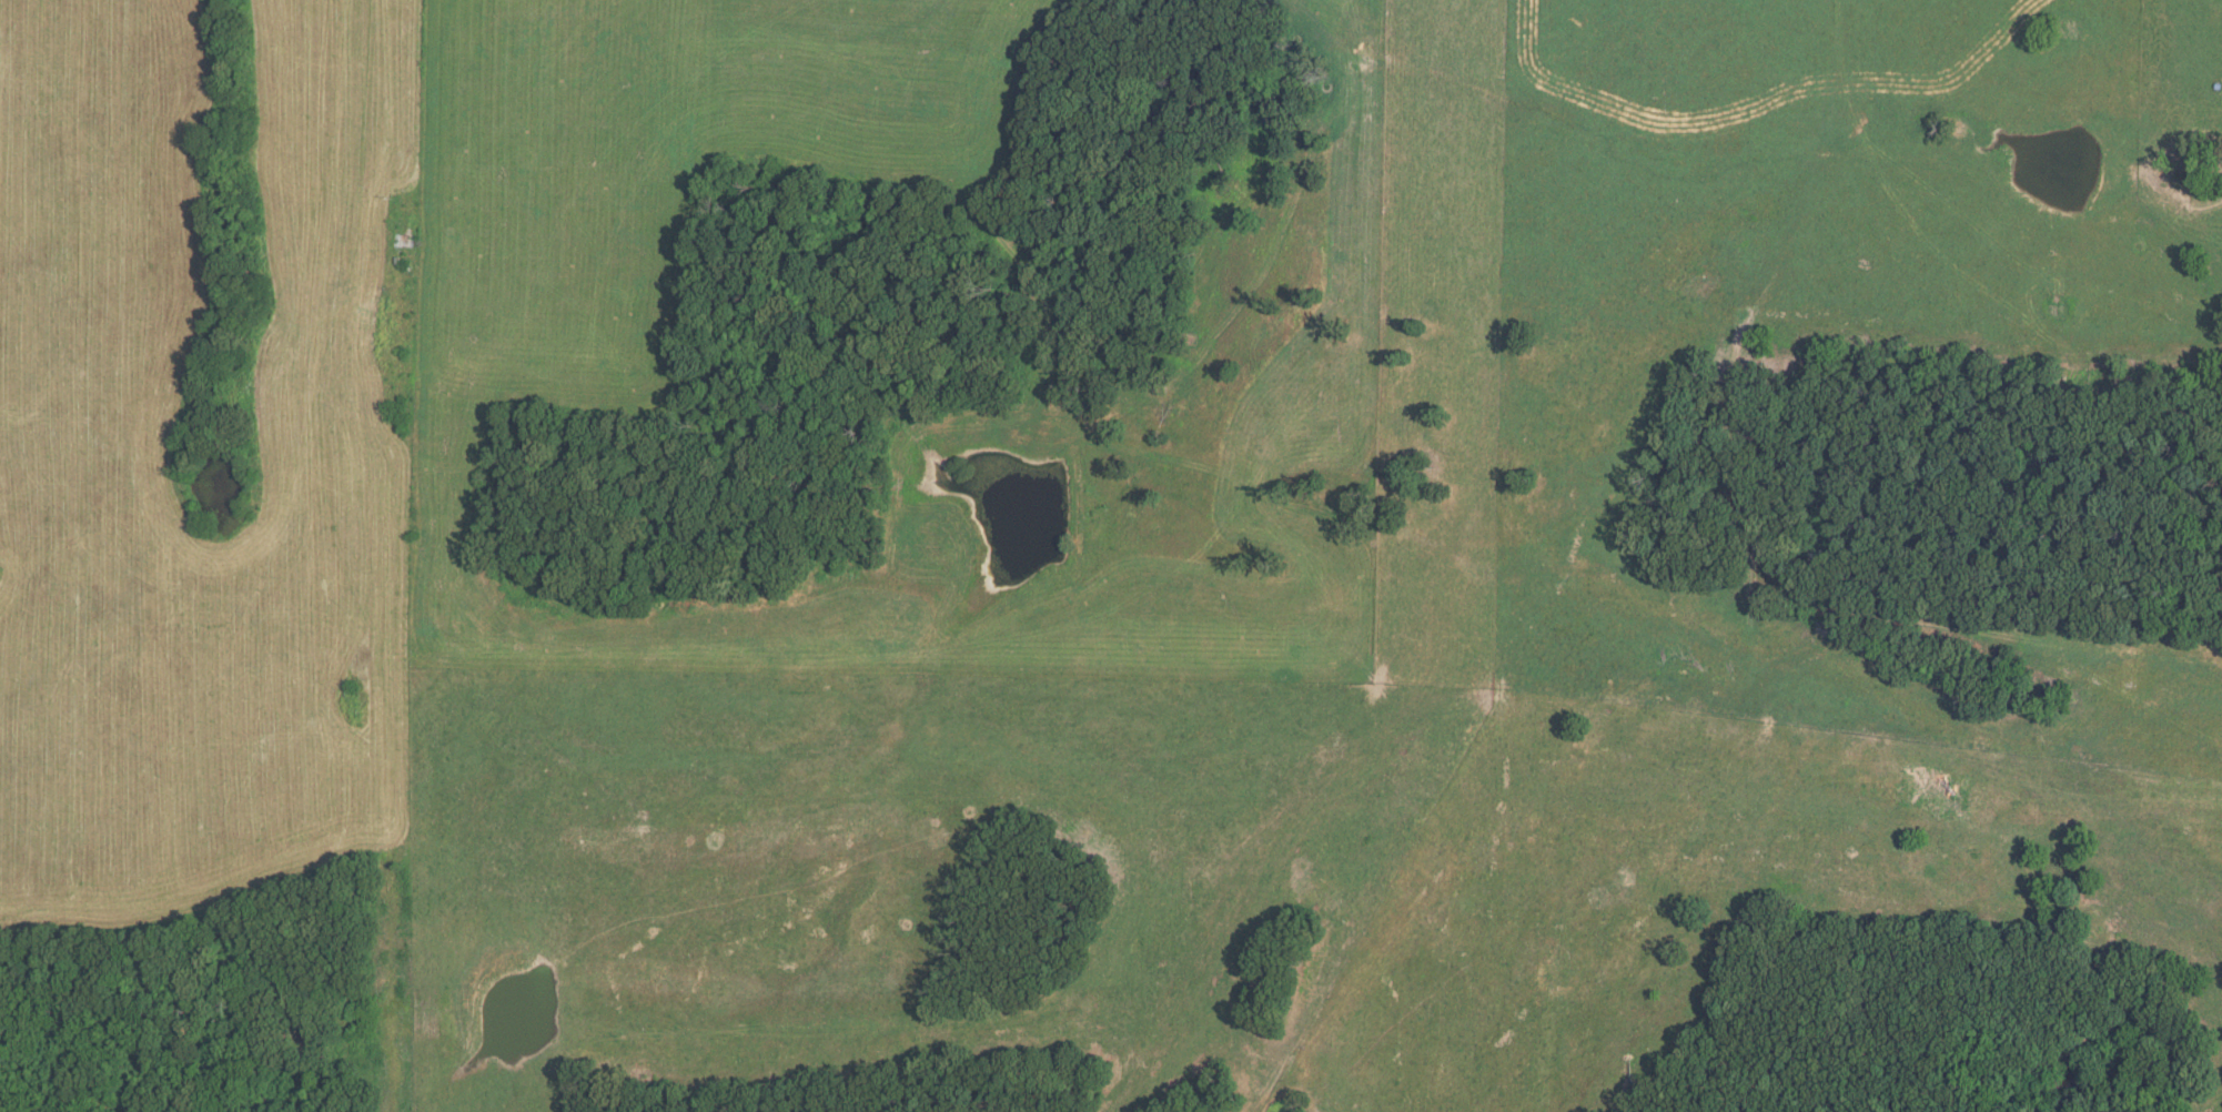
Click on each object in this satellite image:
building: (402, 241)

